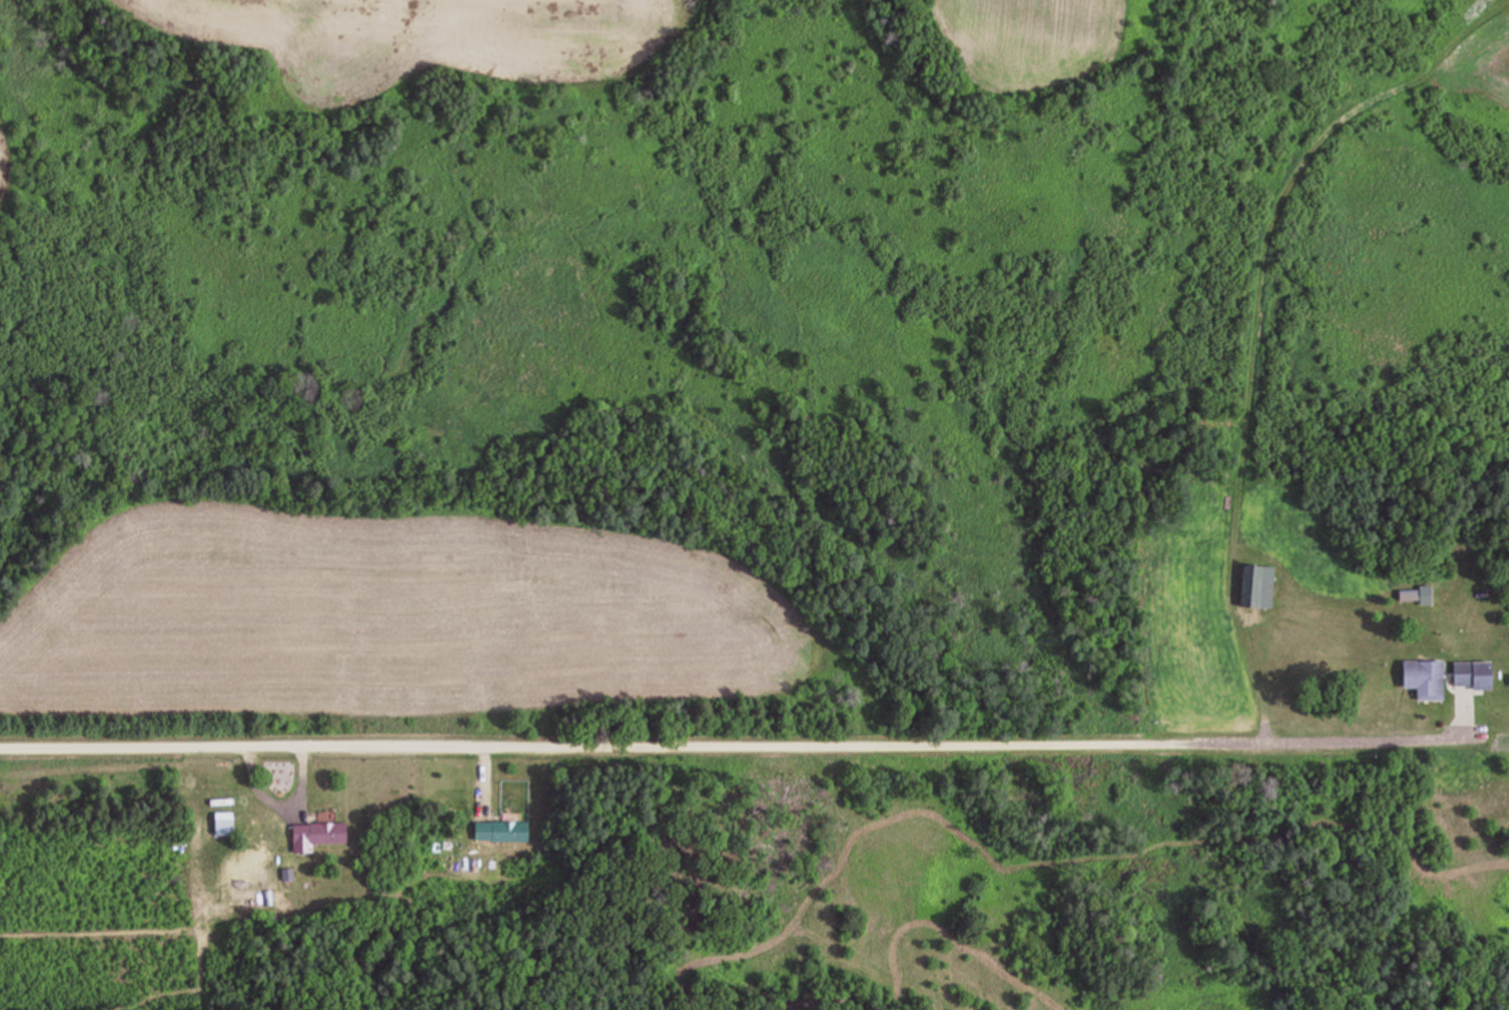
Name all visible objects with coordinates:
crop: (440, 38)
crop: (1043, 39)
crop: (8, 165)
building: (1265, 586)
crop: (416, 629)
building: (1474, 674)
building: (1426, 678)
road: (604, 739)
road: (1351, 742)
building: (224, 823)
building: (502, 831)
building: (318, 834)

